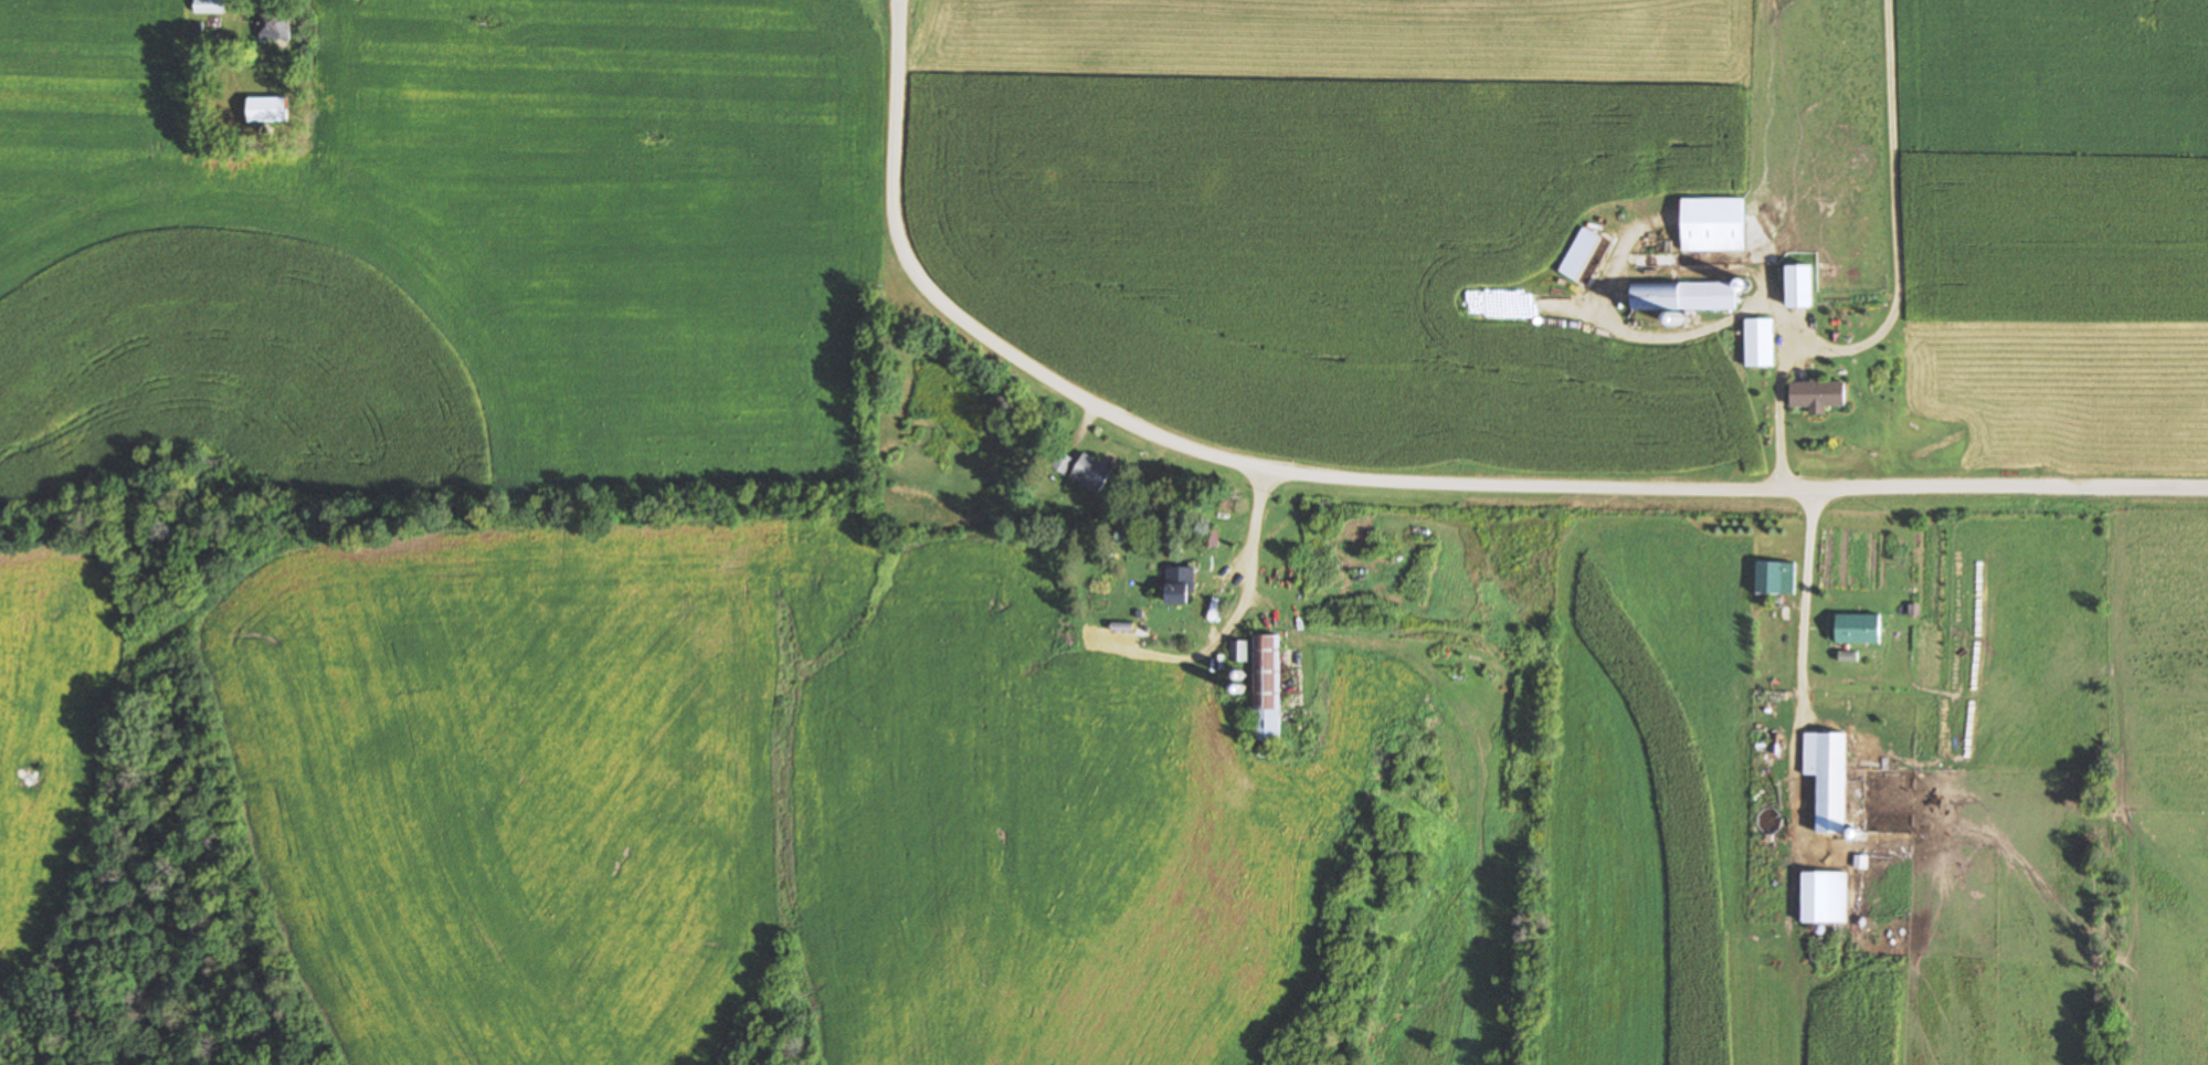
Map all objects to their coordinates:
building: (210, 7)
building: (275, 27)
building: (266, 109)
building: (1713, 225)
building: (1581, 254)
road: (1897, 285)
building: (1800, 286)
building: (1684, 297)
building: (1760, 344)
building: (1819, 396)
building: (1063, 464)
building: (1091, 474)
road: (1393, 481)
building: (1206, 537)
building: (1769, 578)
building: (1180, 586)
building: (1860, 630)
building: (1267, 687)
building: (1828, 779)

